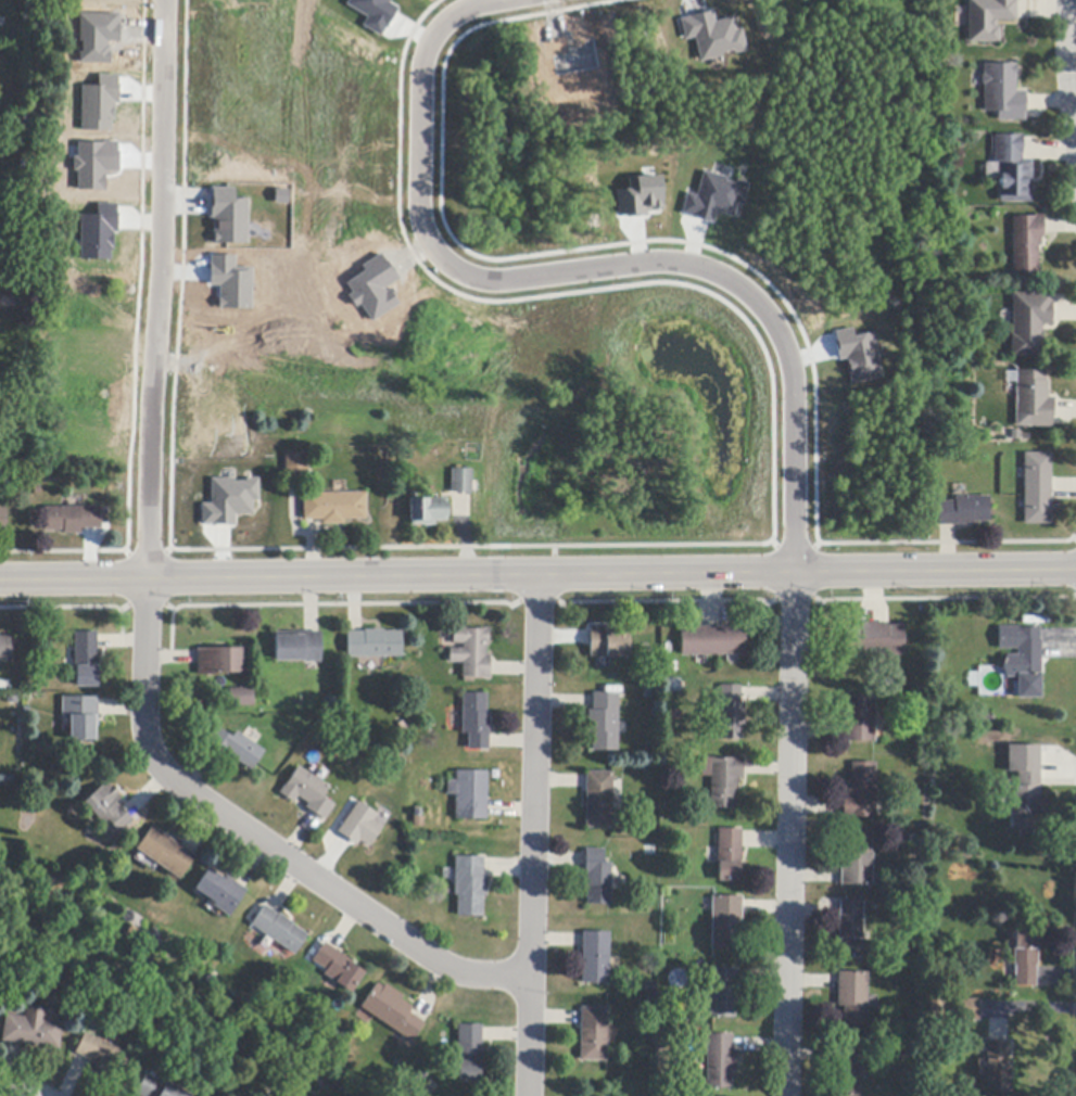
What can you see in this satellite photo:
building: (374, 13)
building: (988, 18)
building: (710, 34)
road: (1067, 82)
building: (1002, 93)
building: (99, 103)
building: (93, 163)
building: (1012, 170)
building: (638, 195)
building: (712, 196)
building: (228, 216)
building: (97, 232)
building: (1026, 244)
road: (594, 267)
park: (934, 278)
building: (229, 281)
building: (372, 286)
building: (1029, 322)
building: (857, 354)
building: (1034, 399)
building: (296, 463)
building: (461, 482)
building: (1037, 488)
building: (227, 499)
building: (333, 508)
building: (427, 511)
building: (963, 511)
building: (73, 519)
building: (3, 520)
road: (537, 575)
road: (143, 604)
building: (873, 640)
building: (711, 641)
building: (607, 643)
building: (374, 645)
building: (298, 647)
building: (4, 649)
building: (470, 652)
building: (86, 660)
building: (1022, 660)
building: (218, 661)
building: (673, 686)
building: (241, 698)
building: (731, 714)
building: (81, 717)
building: (859, 719)
building: (474, 721)
building: (983, 721)
building: (604, 722)
building: (995, 738)
building: (236, 749)
building: (3, 778)
building: (722, 779)
building: (1024, 787)
building: (860, 792)
building: (307, 793)
building: (469, 794)
building: (598, 800)
building: (106, 807)
building: (360, 826)
road: (535, 834)
road: (792, 834)
building: (165, 852)
building: (729, 855)
building: (856, 861)
building: (596, 878)
building: (469, 885)
building: (220, 892)
building: (724, 922)
building: (849, 929)
building: (279, 930)
building: (131, 933)
building: (1025, 957)
building: (595, 958)
building: (338, 968)
building: (105, 984)
building: (723, 992)
building: (852, 997)
building: (935, 1006)
building: (967, 1008)
building: (392, 1011)
building: (31, 1029)
building: (593, 1035)
building: (469, 1053)
building: (103, 1056)
building: (719, 1062)
building: (998, 1068)
building: (848, 1069)
building: (156, 1088)

